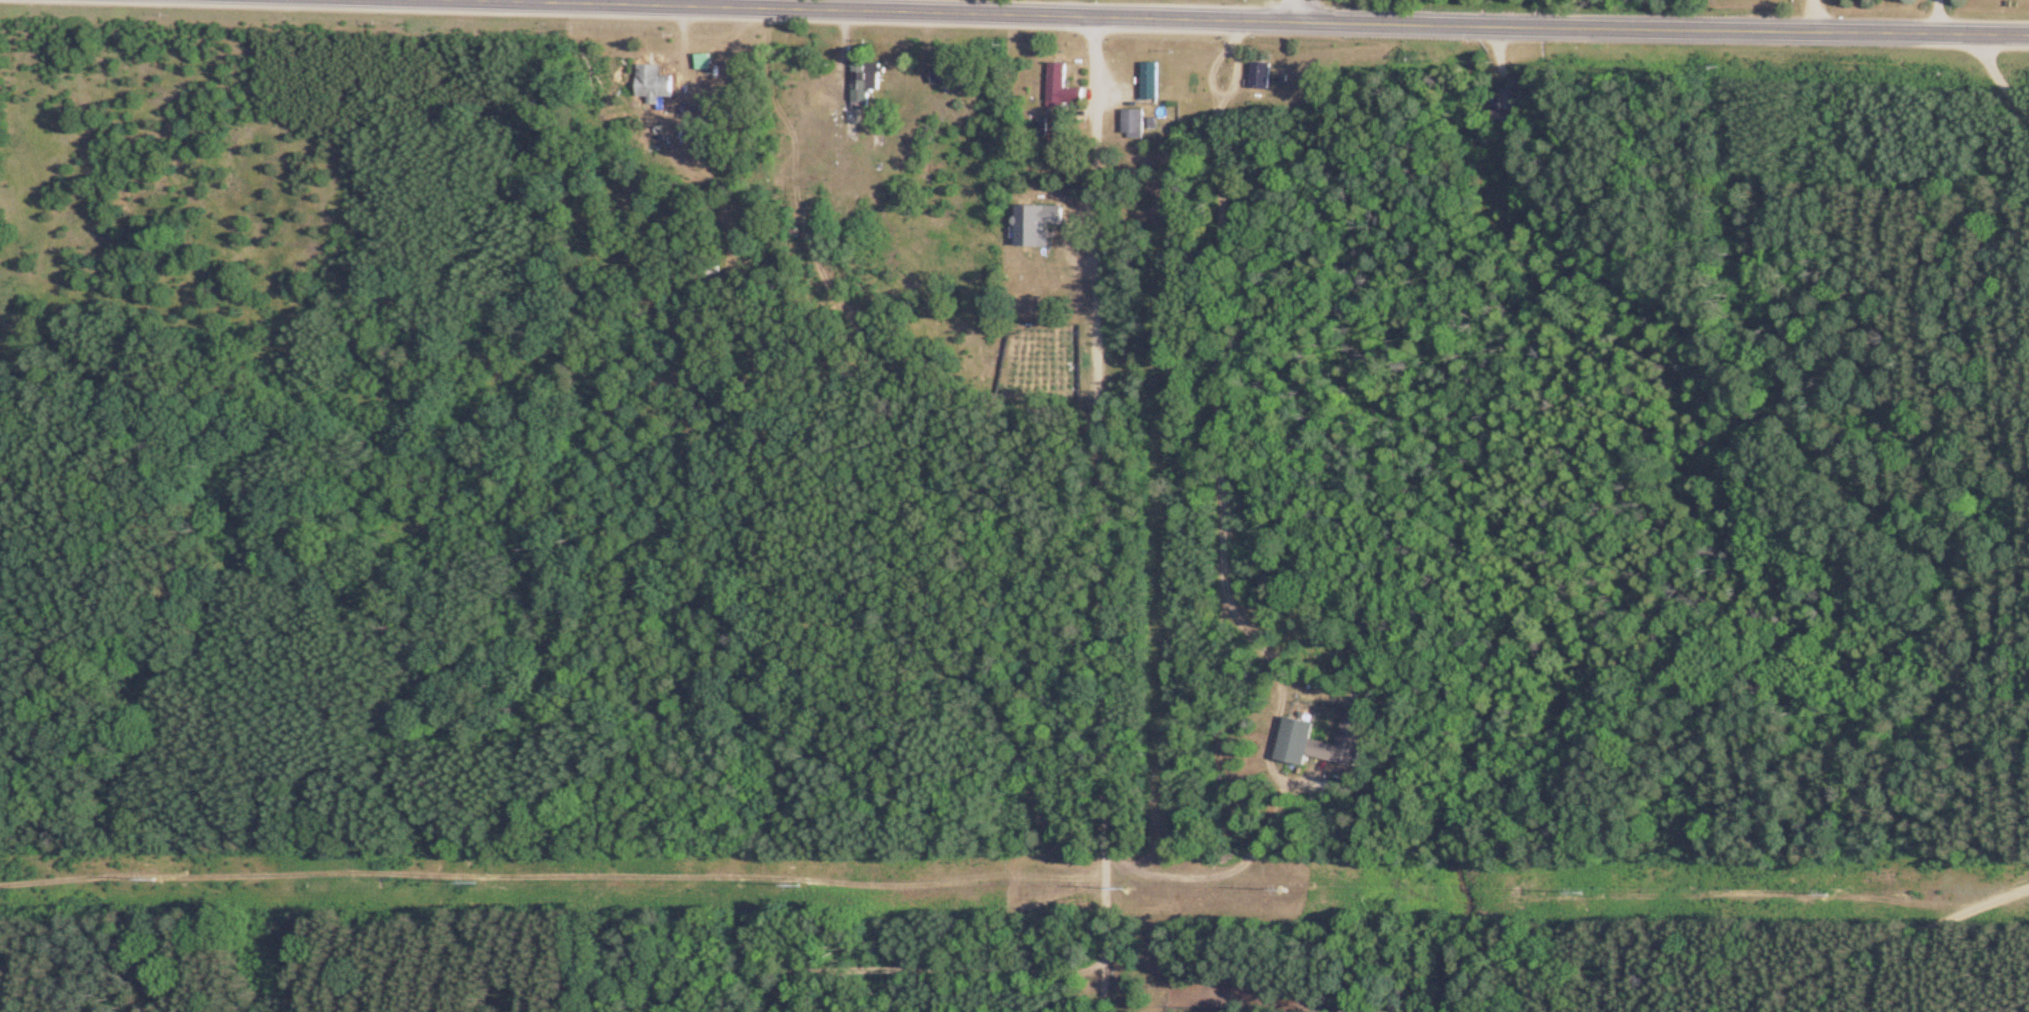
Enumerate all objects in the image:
road: (1294, 11)
road: (1239, 20)
building: (701, 62)
building: (1258, 75)
road: (1996, 76)
building: (1147, 80)
building: (650, 83)
building: (1059, 88)
building: (857, 91)
building: (1132, 123)
building: (1044, 127)
road: (1095, 514)
road: (1220, 530)
building: (1313, 742)
road: (1857, 947)

